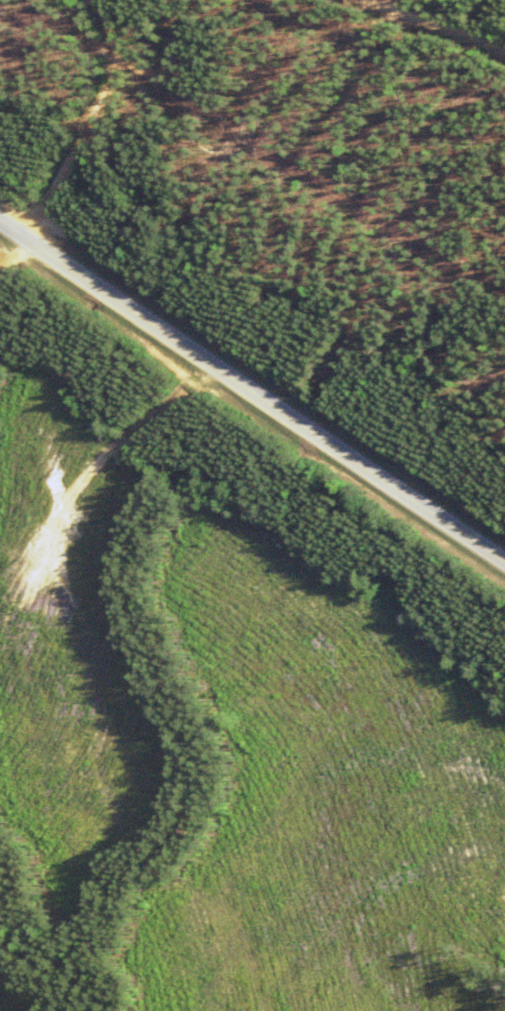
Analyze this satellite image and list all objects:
road: (252, 392)

